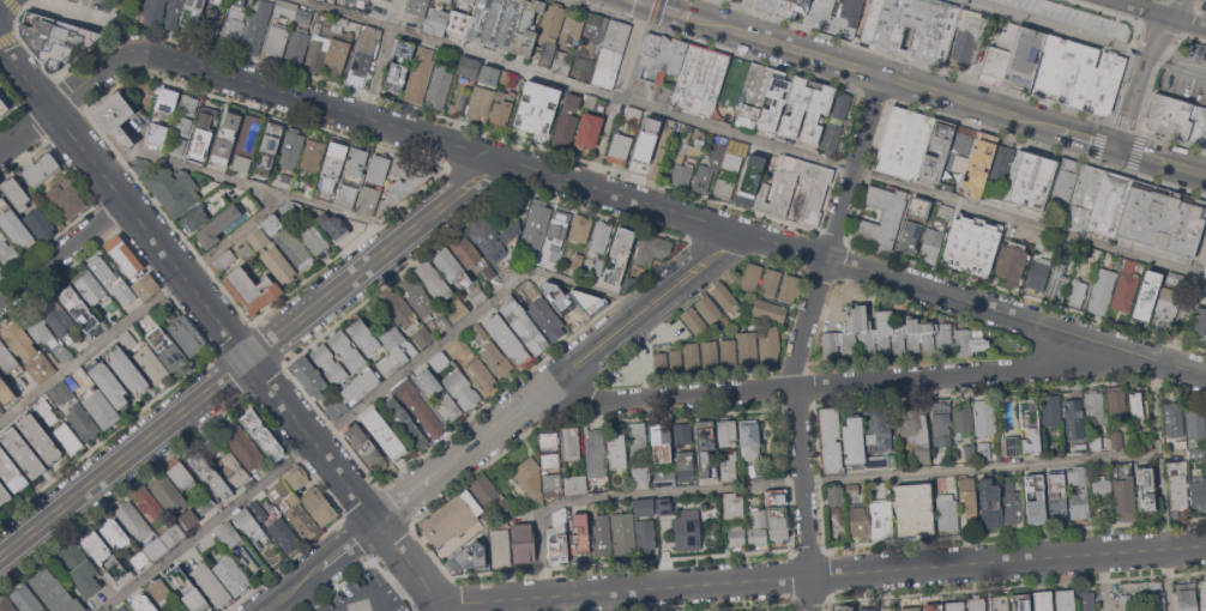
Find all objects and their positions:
building: (76, 0)
building: (321, 0)
building: (368, 0)
building: (446, 1)
building: (735, 1)
building: (351, 4)
road: (5, 5)
building: (767, 5)
building: (418, 7)
road: (668, 7)
building: (791, 7)
building: (285, 8)
road: (1174, 8)
road: (67, 12)
building: (152, 12)
building: (191, 12)
road: (1160, 13)
building: (173, 14)
building: (303, 16)
building: (821, 16)
building: (212, 17)
building: (848, 17)
building: (462, 19)
building: (435, 20)
building: (496, 22)
building: (550, 23)
building: (234, 25)
building: (526, 26)
building: (574, 26)
building: (257, 28)
building: (912, 28)
building: (969, 35)
road: (1092, 35)
building: (616, 38)
building: (55, 40)
building: (276, 40)
building: (590, 42)
building: (297, 44)
building: (328, 49)
building: (364, 49)
building: (544, 53)
building: (662, 54)
building: (999, 54)
building: (1024, 58)
road: (382, 59)
building: (562, 62)
building: (399, 63)
building: (469, 67)
building: (1065, 71)
building: (486, 72)
road: (876, 72)
building: (420, 75)
building: (511, 78)
building: (604, 78)
building: (659, 78)
building: (699, 79)
road: (1138, 79)
building: (1104, 81)
building: (440, 85)
road: (616, 91)
building: (755, 91)
building: (464, 97)
road: (68, 98)
building: (167, 99)
building: (590, 101)
building: (776, 101)
building: (482, 102)
building: (571, 102)
building: (840, 104)
building: (2, 105)
building: (796, 107)
building: (501, 108)
building: (537, 108)
building: (462, 109)
building: (633, 114)
building: (818, 114)
building: (1176, 117)
building: (113, 120)
building: (183, 125)
building: (565, 128)
building: (589, 129)
building: (201, 133)
building: (272, 134)
building: (152, 135)
building: (703, 135)
road: (753, 137)
building: (831, 137)
building: (224, 139)
road: (1089, 139)
building: (247, 143)
building: (646, 143)
building: (904, 143)
building: (959, 144)
building: (619, 147)
building: (291, 150)
building: (937, 150)
building: (313, 155)
building: (661, 155)
building: (735, 155)
road: (1162, 159)
building: (755, 161)
building: (710, 163)
building: (979, 163)
building: (141, 165)
building: (333, 165)
building: (399, 165)
building: (1000, 167)
building: (378, 168)
building: (42, 169)
building: (683, 169)
building: (351, 177)
building: (1031, 181)
building: (287, 182)
building: (1065, 182)
road: (251, 183)
building: (404, 186)
building: (173, 188)
building: (724, 188)
building: (16, 193)
building: (748, 193)
building: (816, 193)
building: (1086, 194)
building: (66, 200)
building: (368, 200)
building: (1110, 204)
building: (919, 206)
building: (288, 208)
road: (673, 210)
building: (945, 211)
building: (882, 216)
building: (195, 217)
building: (1163, 218)
building: (40, 223)
building: (14, 224)
building: (333, 225)
building: (536, 225)
building: (217, 226)
building: (559, 226)
building: (580, 228)
building: (313, 236)
building: (909, 237)
building: (258, 238)
building: (495, 240)
building: (288, 241)
building: (1041, 242)
building: (601, 243)
building: (972, 243)
building: (930, 244)
building: (651, 248)
building: (1065, 248)
building: (7, 252)
road: (64, 252)
building: (246, 252)
building: (466, 252)
building: (123, 254)
building: (619, 255)
building: (223, 260)
building: (577, 260)
building: (1012, 261)
building: (279, 264)
building: (451, 266)
building: (1, 271)
building: (489, 272)
building: (1038, 272)
building: (585, 274)
building: (731, 276)
building: (750, 277)
building: (111, 279)
building: (1175, 279)
road: (188, 280)
building: (434, 280)
building: (627, 280)
building: (1056, 282)
building: (771, 283)
building: (90, 285)
building: (145, 285)
building: (545, 288)
building: (789, 288)
building: (1124, 288)
building: (527, 289)
building: (252, 290)
building: (1102, 291)
building: (1077, 292)
building: (476, 295)
building: (724, 296)
building: (417, 297)
road: (1187, 301)
building: (590, 302)
building: (1142, 304)
building: (165, 305)
building: (1166, 307)
building: (708, 308)
building: (399, 310)
building: (457, 310)
building: (768, 310)
road: (144, 311)
building: (82, 313)
building: (55, 315)
building: (545, 317)
building: (694, 320)
building: (1198, 321)
building: (444, 322)
building: (36, 323)
building: (524, 326)
building: (480, 331)
building: (185, 332)
building: (0, 334)
building: (363, 335)
building: (897, 335)
building: (422, 337)
road: (801, 337)
building: (19, 339)
building: (507, 339)
building: (127, 340)
building: (398, 344)
building: (165, 345)
building: (770, 345)
building: (748, 347)
building: (346, 350)
building: (728, 352)
building: (64, 355)
building: (710, 355)
building: (692, 356)
building: (6, 357)
road: (247, 359)
building: (440, 359)
building: (496, 359)
building: (675, 359)
building: (661, 362)
building: (328, 363)
building: (151, 364)
building: (387, 364)
building: (472, 364)
building: (41, 368)
building: (126, 368)
building: (309, 376)
road: (556, 376)
building: (428, 382)
building: (108, 383)
road: (816, 383)
building: (360, 386)
building: (74, 387)
building: (462, 388)
building: (6, 392)
building: (61, 392)
road: (362, 403)
building: (1116, 403)
building: (1095, 405)
building: (1139, 405)
building: (0, 407)
building: (100, 407)
building: (336, 407)
building: (420, 407)
building: (447, 407)
building: (1050, 410)
building: (46, 411)
building: (984, 418)
building: (1073, 418)
building: (1172, 418)
building: (963, 419)
building: (83, 422)
building: (405, 423)
building: (941, 423)
building: (1196, 424)
building: (1030, 425)
building: (916, 429)
building: (726, 431)
building: (385, 432)
building: (683, 432)
building: (263, 434)
building: (40, 437)
building: (68, 437)
building: (879, 437)
building: (1116, 438)
building: (749, 440)
building: (831, 440)
building: (854, 442)
building: (1096, 442)
building: (571, 443)
building: (661, 443)
building: (1181, 443)
building: (242, 446)
building: (1009, 446)
building: (366, 447)
building: (706, 448)
building: (550, 449)
building: (616, 449)
building: (983, 450)
building: (22, 452)
building: (1196, 452)
building: (595, 453)
building: (970, 453)
building: (639, 454)
building: (729, 466)
building: (686, 468)
building: (11, 471)
building: (234, 471)
building: (210, 474)
building: (1078, 474)
building: (181, 476)
road: (816, 477)
building: (296, 478)
building: (530, 478)
building: (664, 478)
building: (553, 482)
building: (575, 484)
road: (1160, 484)
building: (1177, 484)
building: (1101, 485)
building: (1145, 488)
building: (483, 490)
building: (852, 490)
building: (4, 492)
building: (167, 492)
building: (1056, 492)
building: (1124, 492)
building: (836, 495)
building: (969, 495)
building: (1199, 495)
building: (1035, 497)
building: (1012, 501)
building: (149, 502)
building: (990, 502)
building: (203, 503)
building: (503, 504)
building: (1080, 504)
building: (319, 506)
building: (644, 506)
building: (664, 507)
building: (734, 507)
building: (913, 509)
building: (295, 510)
building: (947, 510)
building: (258, 512)
building: (778, 514)
building: (559, 516)
building: (188, 518)
building: (451, 518)
building: (759, 518)
building: (881, 518)
building: (133, 520)
building: (858, 520)
building: (248, 522)
building: (687, 530)
building: (113, 533)
building: (580, 533)
building: (625, 533)
building: (173, 534)
building: (228, 534)
building: (283, 534)
building: (645, 534)
building: (602, 536)
building: (736, 536)
building: (756, 536)
building: (523, 543)
building: (155, 548)
building: (500, 548)
building: (557, 549)
building: (104, 555)
building: (470, 556)
building: (140, 559)
road: (318, 564)
road: (408, 564)
building: (80, 570)
road: (821, 573)
building: (233, 574)
building: (211, 583)
building: (1141, 586)
building: (187, 588)
building: (159, 591)
building: (54, 592)
parking lot: (361, 594)
building: (1202, 594)
building: (1186, 597)
road: (385, 598)
building: (26, 599)
building: (1043, 600)
building: (1066, 600)
building: (1087, 600)
building: (1158, 601)
building: (143, 603)
building: (977, 603)
building: (999, 603)
building: (1020, 603)
building: (1126, 603)
building: (7, 605)
building: (955, 605)
road: (385, 606)
building: (933, 606)
building: (843, 607)
building: (911, 607)
building: (122, 609)
building: (867, 609)
building: (888, 609)
building: (1138, 610)

